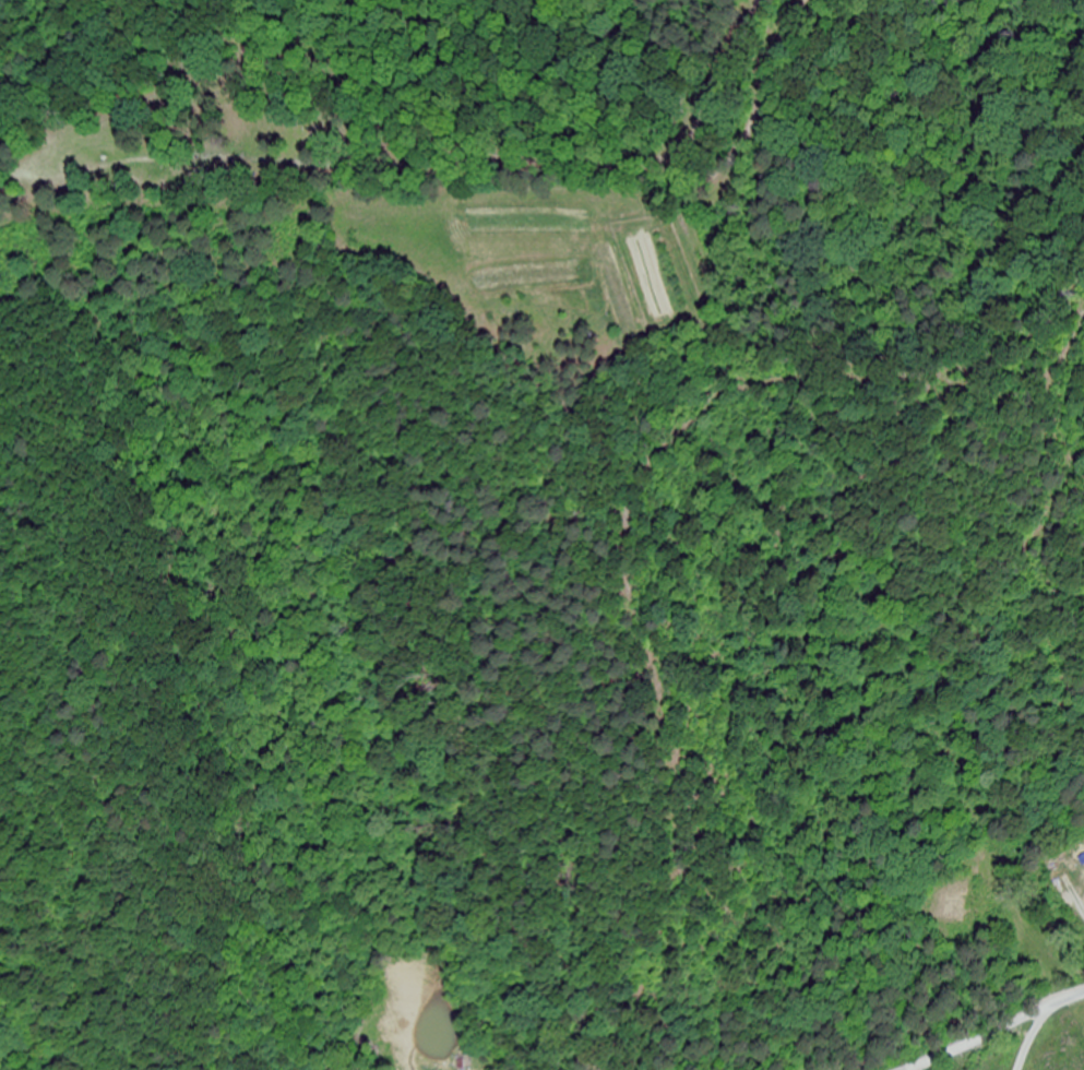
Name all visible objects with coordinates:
road: (998, 1032)
road: (1031, 1038)

